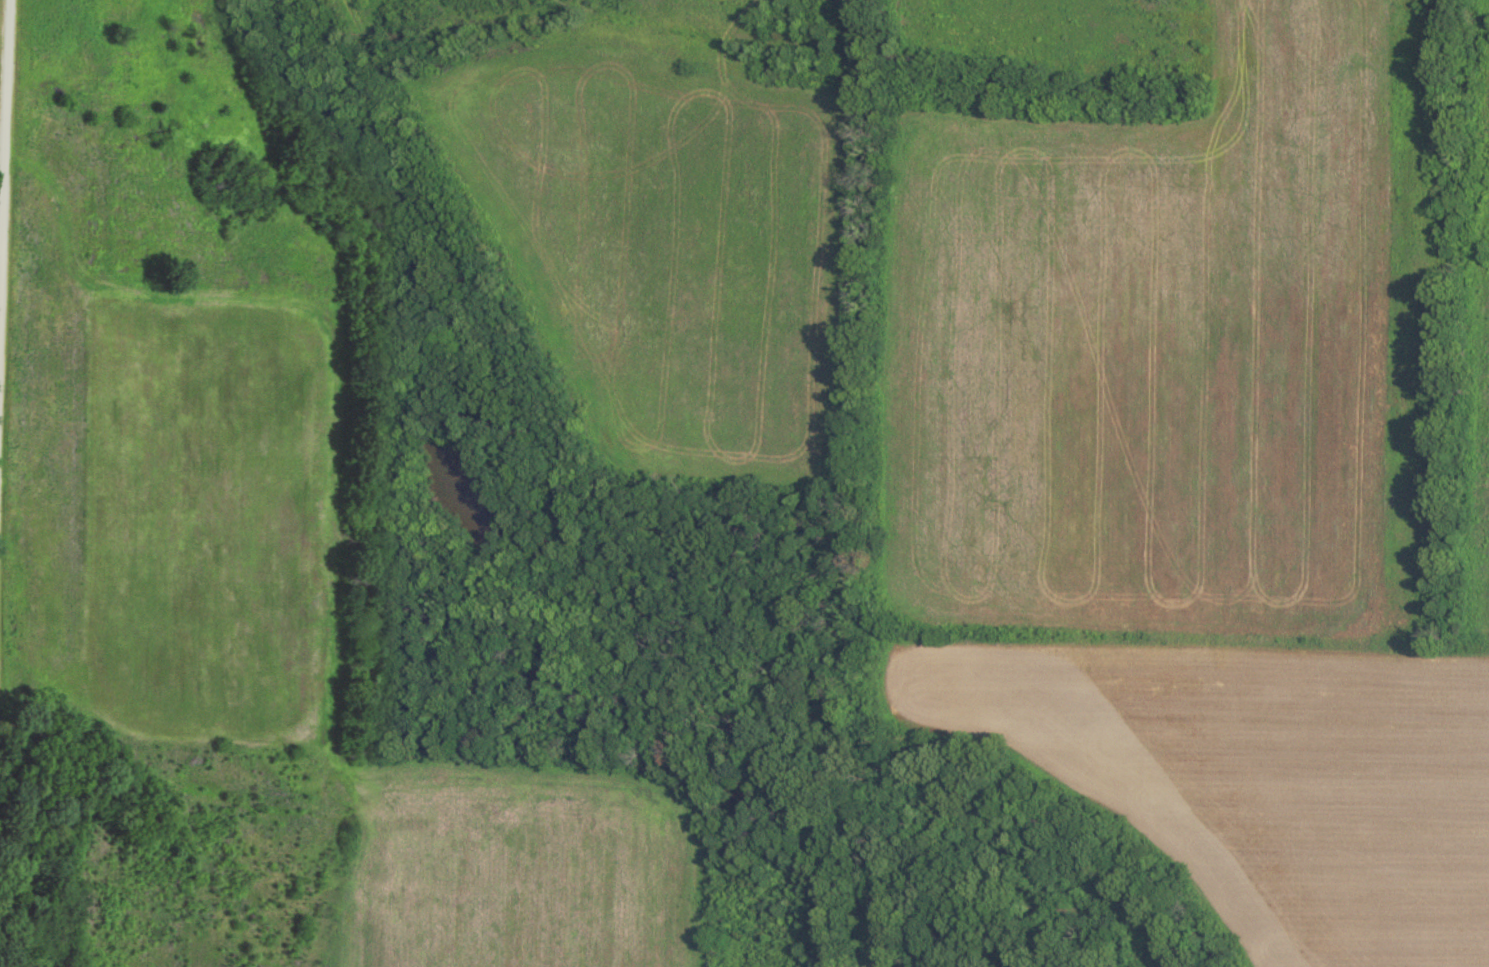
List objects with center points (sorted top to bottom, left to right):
road: (5, 204)

